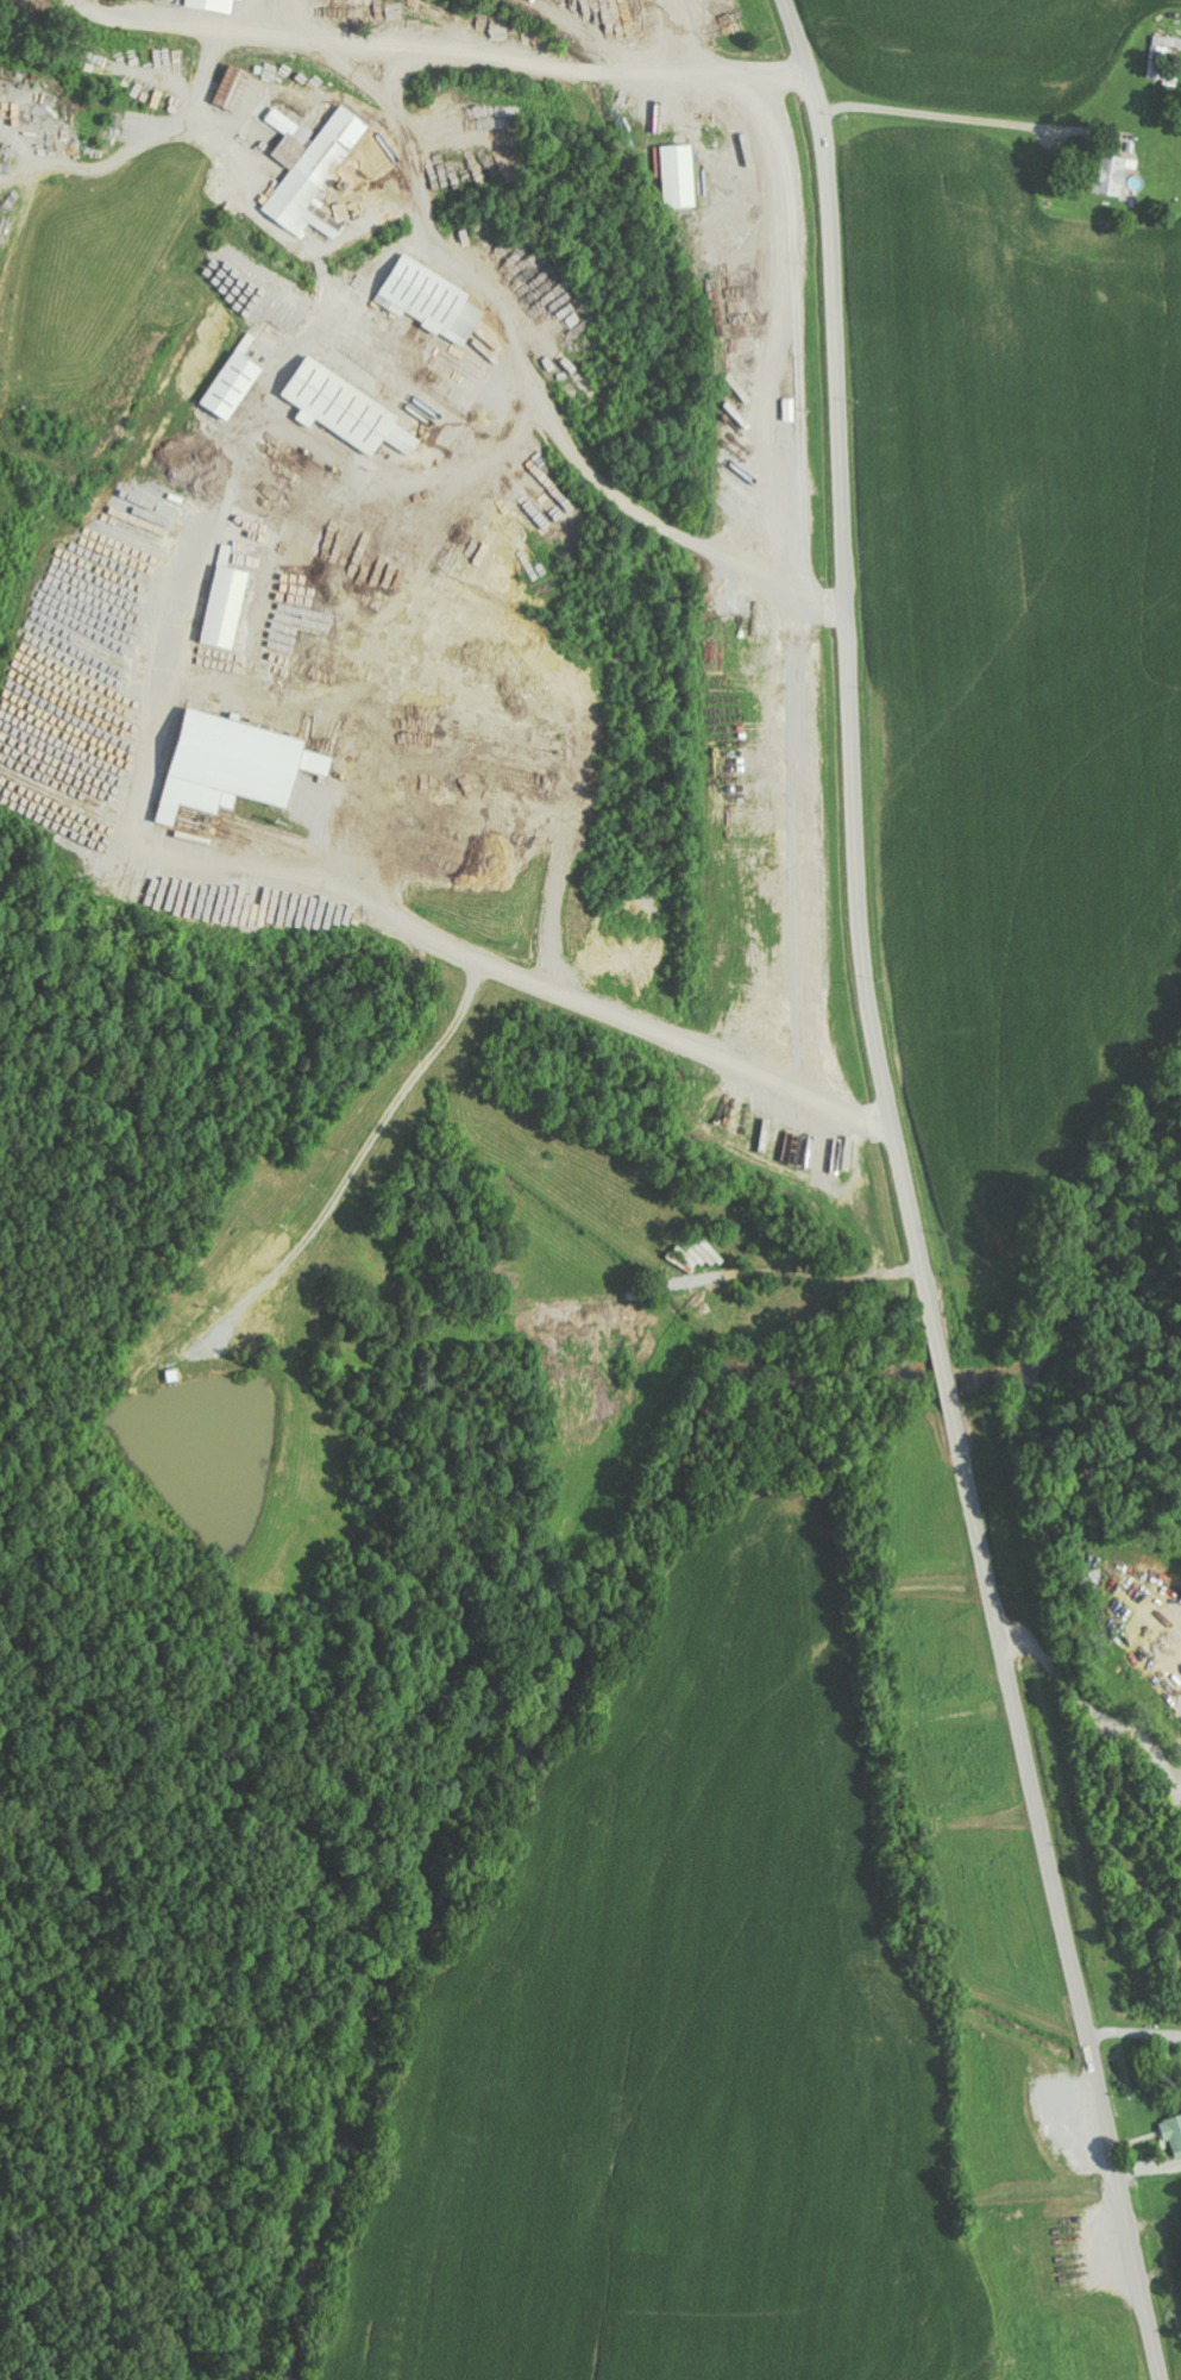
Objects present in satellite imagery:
building: (244, 0)
building: (214, 5)
building: (1163, 49)
road: (384, 59)
building: (233, 87)
road: (772, 92)
building: (315, 170)
building: (1114, 175)
building: (678, 176)
building: (434, 301)
building: (234, 386)
building: (350, 411)
building: (228, 608)
building: (238, 766)
road: (907, 1197)
road: (1091, 1598)
building: (1173, 2131)

